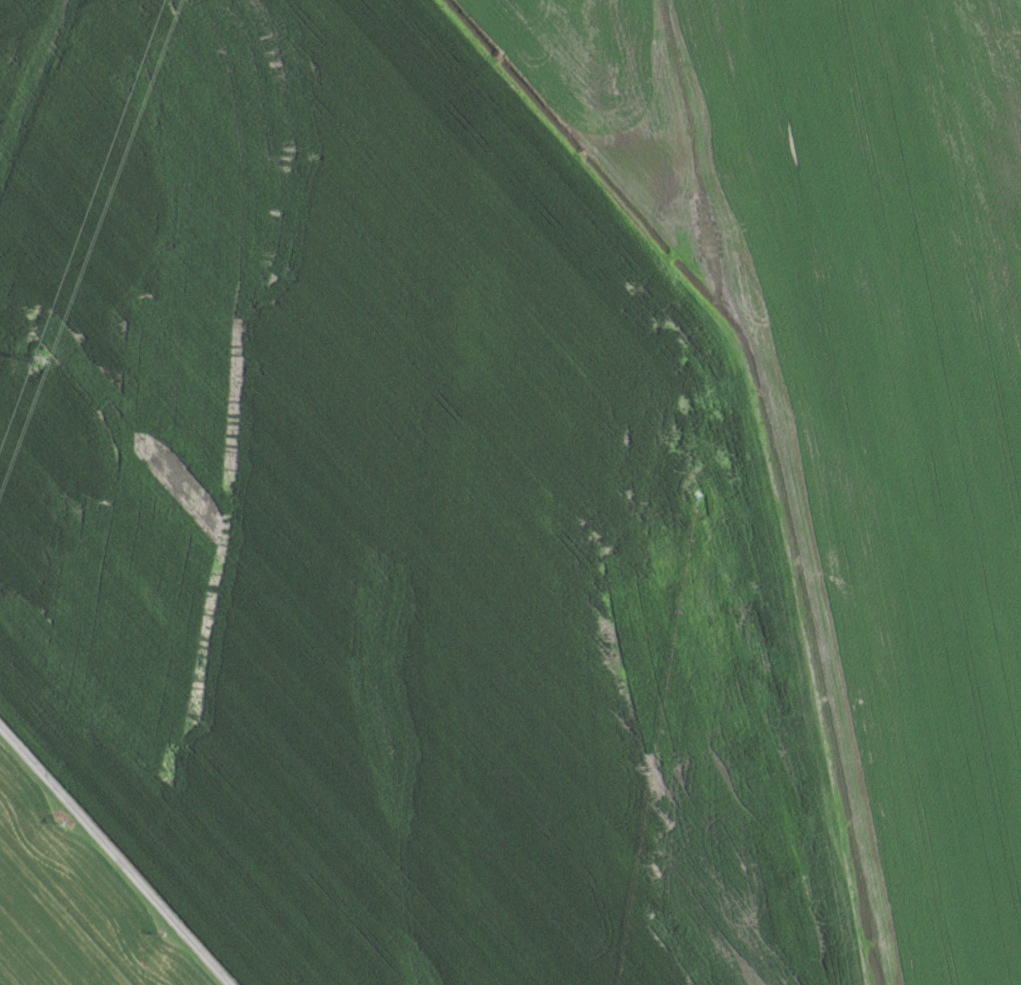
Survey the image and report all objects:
power tower: (39, 360)
road: (113, 856)

